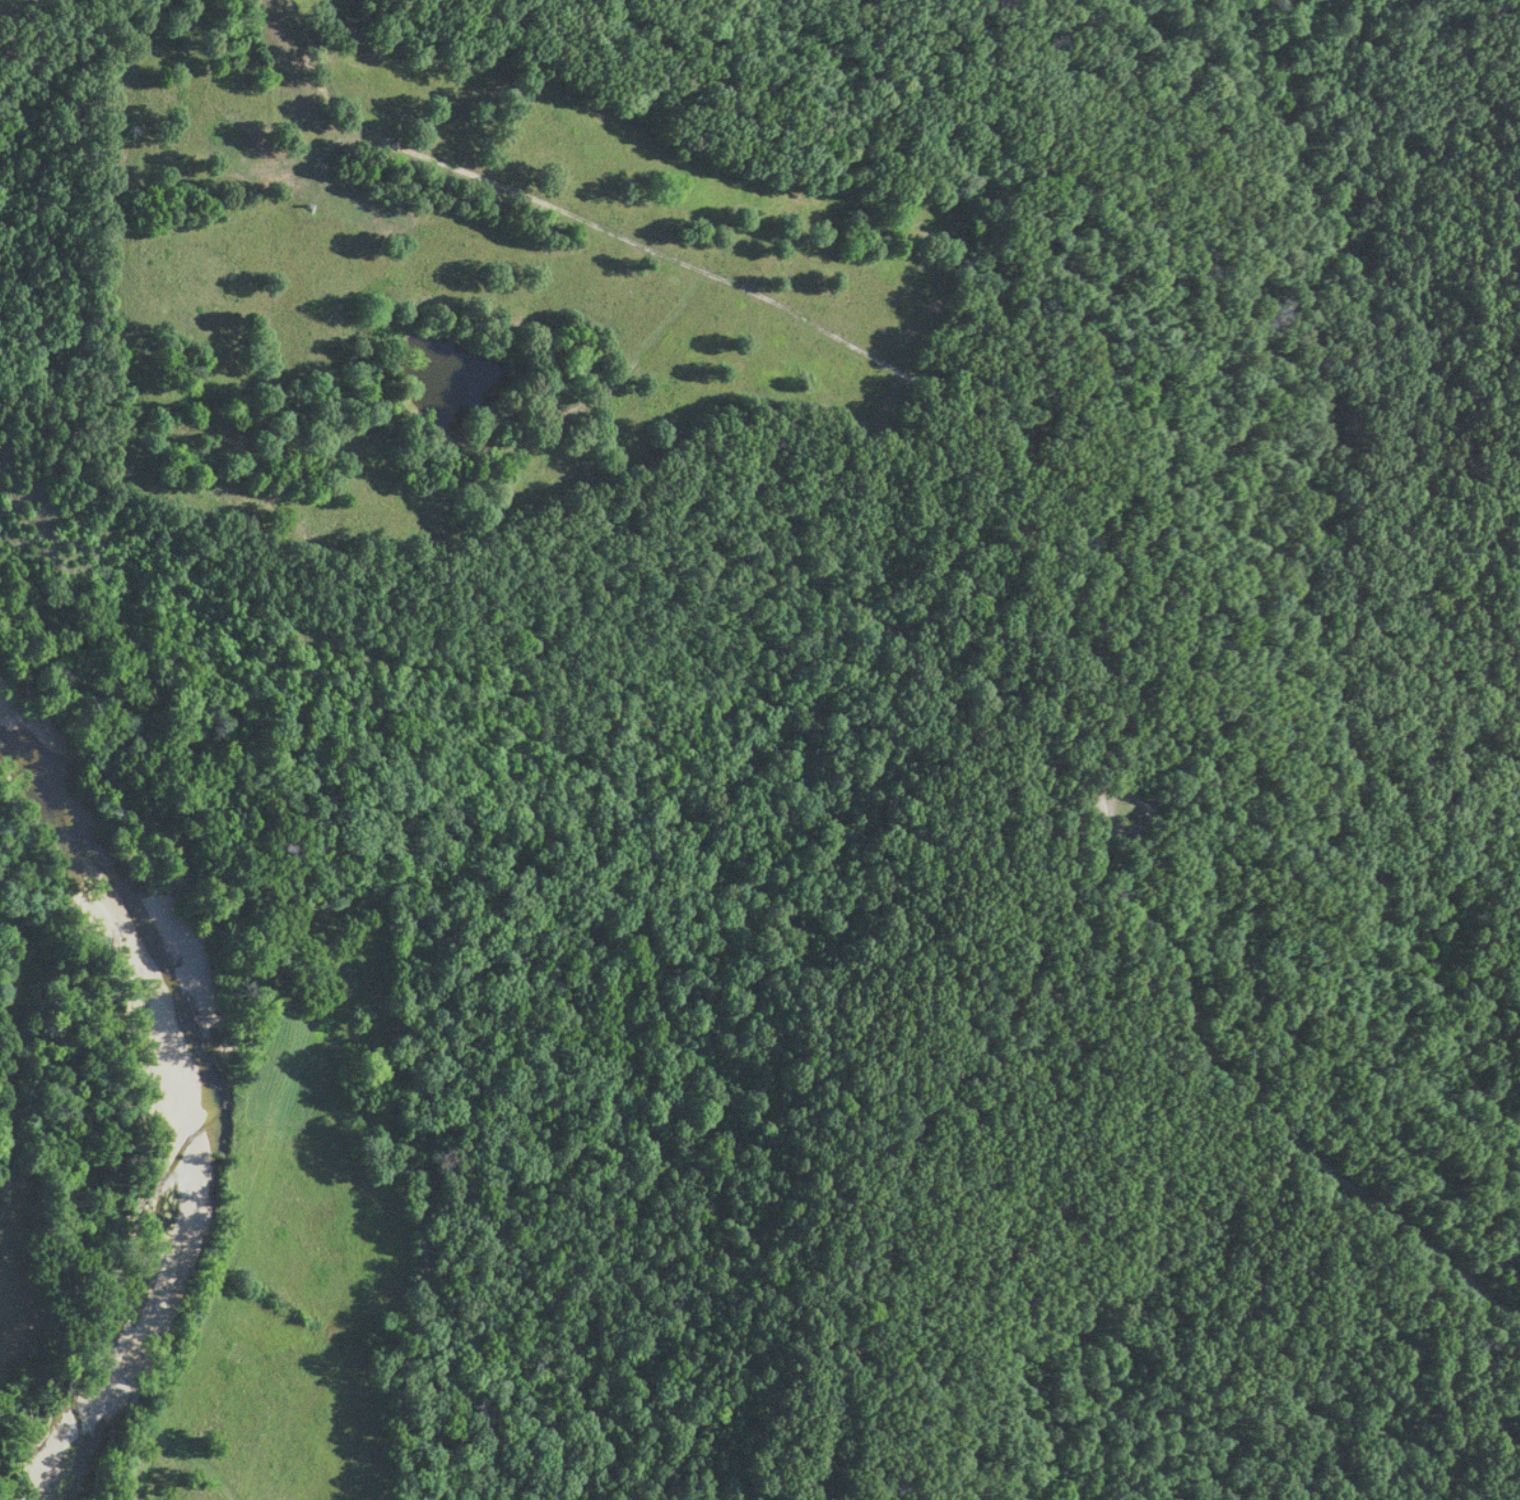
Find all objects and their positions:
road: (1048, 595)

